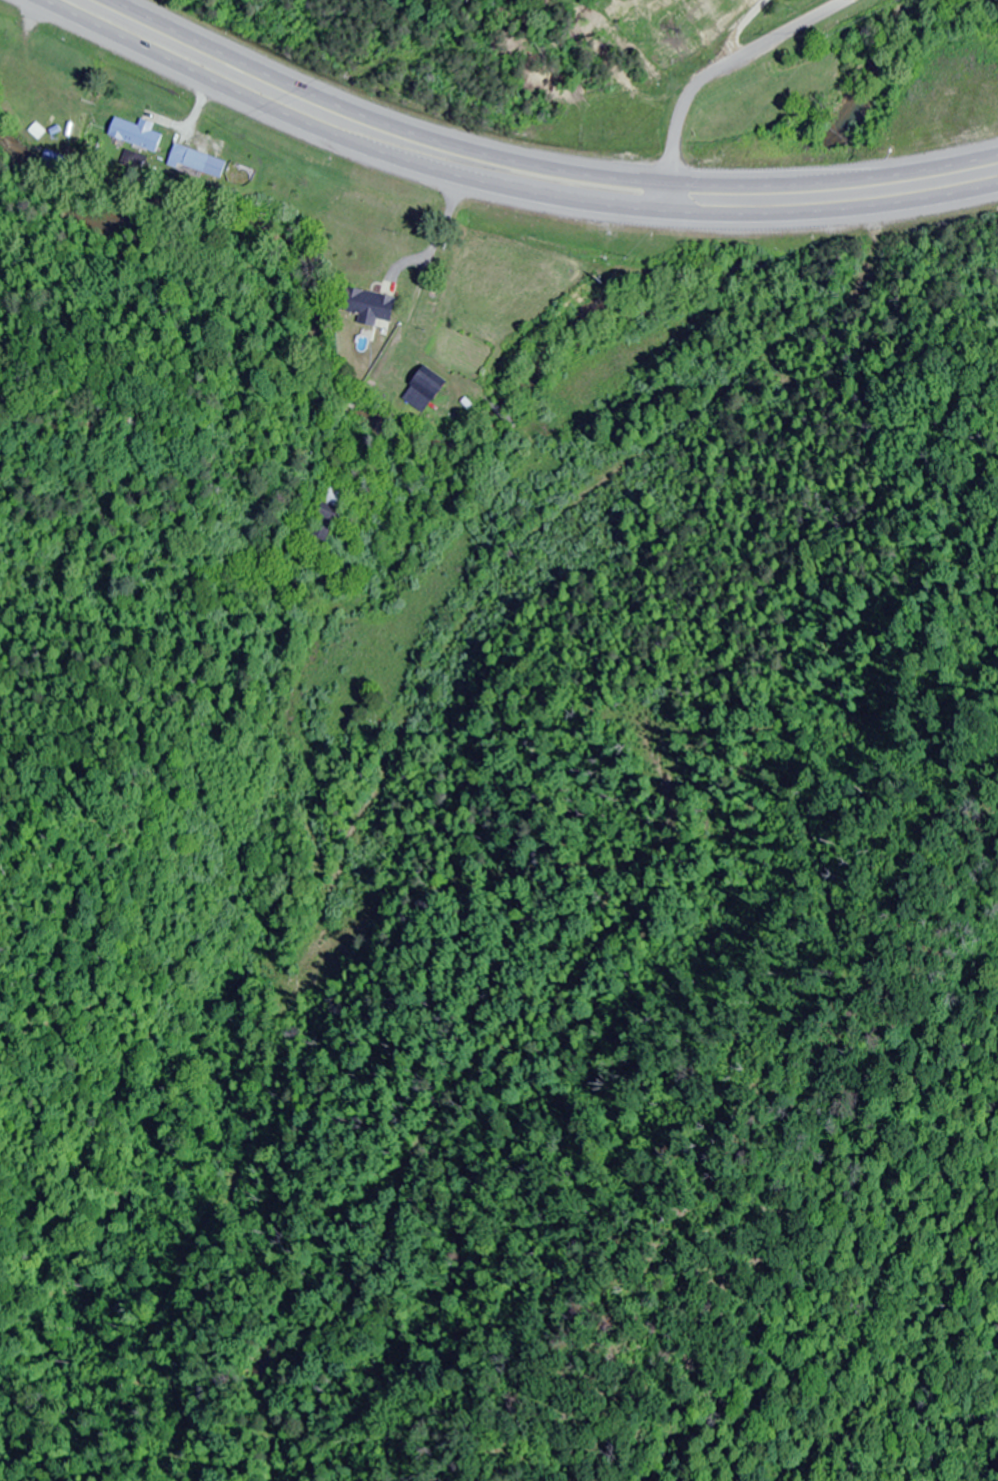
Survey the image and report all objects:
road: (727, 64)
building: (136, 134)
building: (190, 159)
road: (544, 163)
road: (498, 188)
road: (671, 197)
building: (369, 306)
building: (424, 389)
building: (328, 513)

